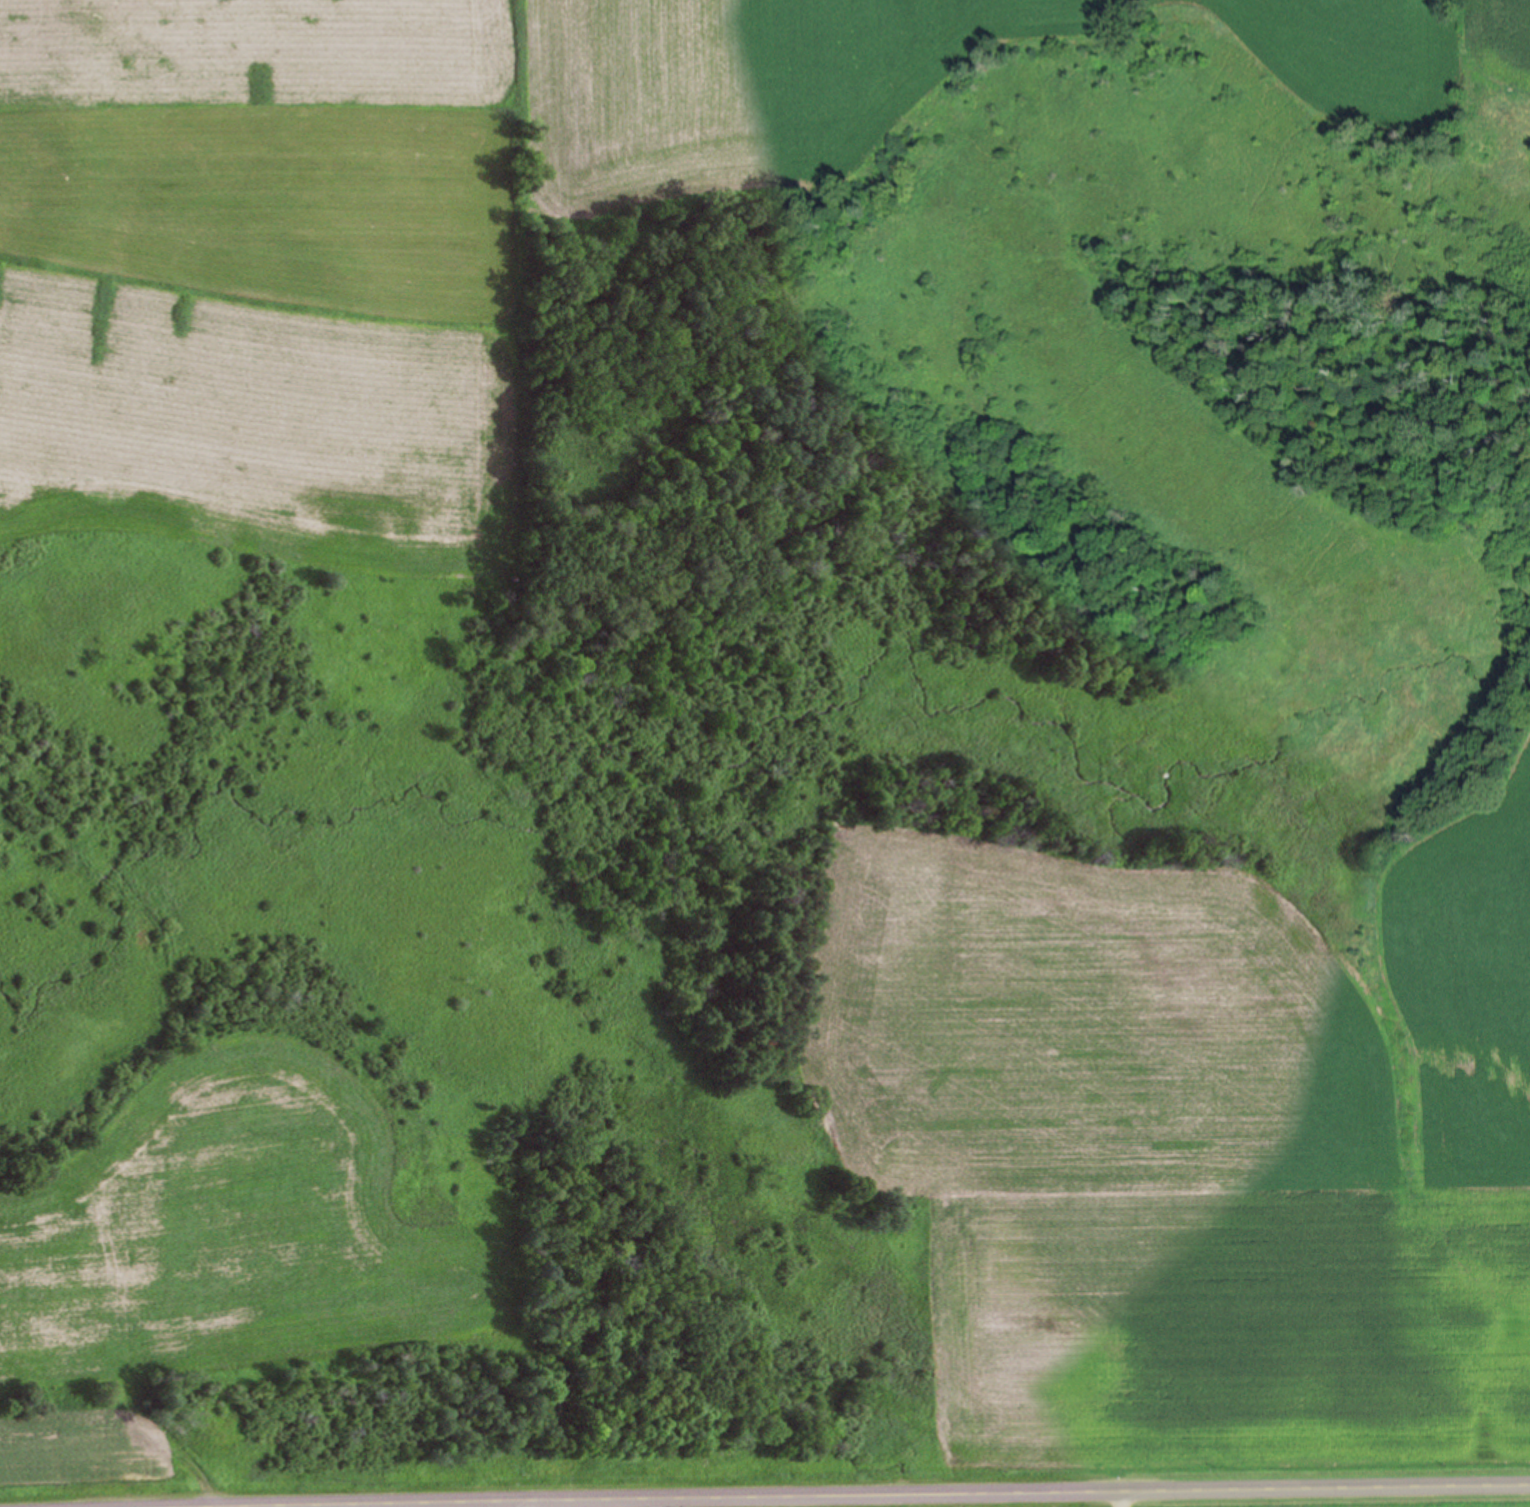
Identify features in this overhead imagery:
crop: (1402, 69)
crop: (379, 234)
crop: (1195, 1148)
road: (777, 1489)
crop: (1334, 1493)
road: (1120, 1495)
crop: (235, 1503)

